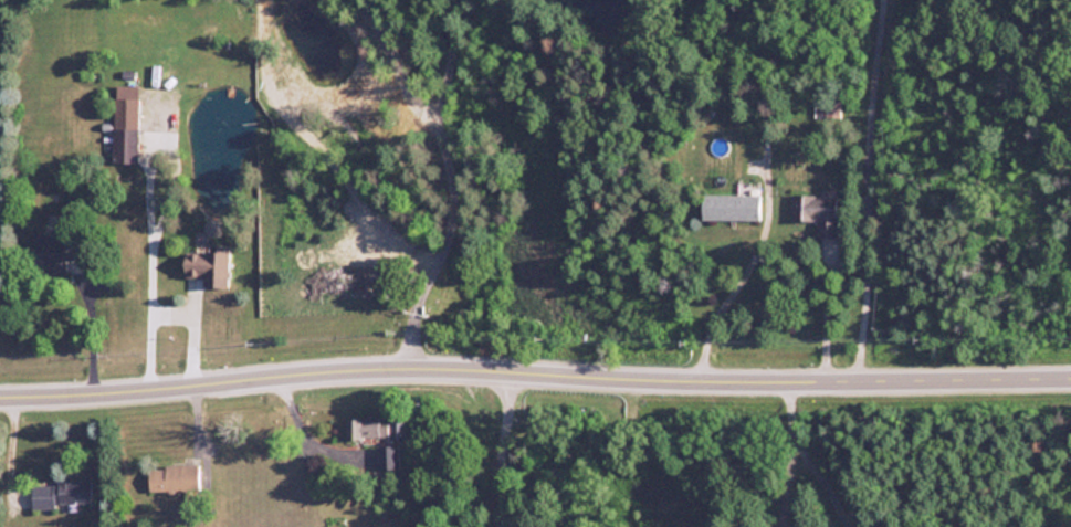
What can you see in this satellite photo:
building: (124, 144)
road: (448, 178)
road: (862, 186)
building: (731, 207)
building: (816, 213)
building: (54, 250)
building: (204, 265)
road: (725, 292)
road: (822, 307)
road: (164, 314)
road: (87, 328)
road: (534, 360)
building: (375, 429)
road: (300, 433)
road: (500, 442)
road: (6, 449)
road: (788, 449)
building: (171, 476)
building: (60, 492)

